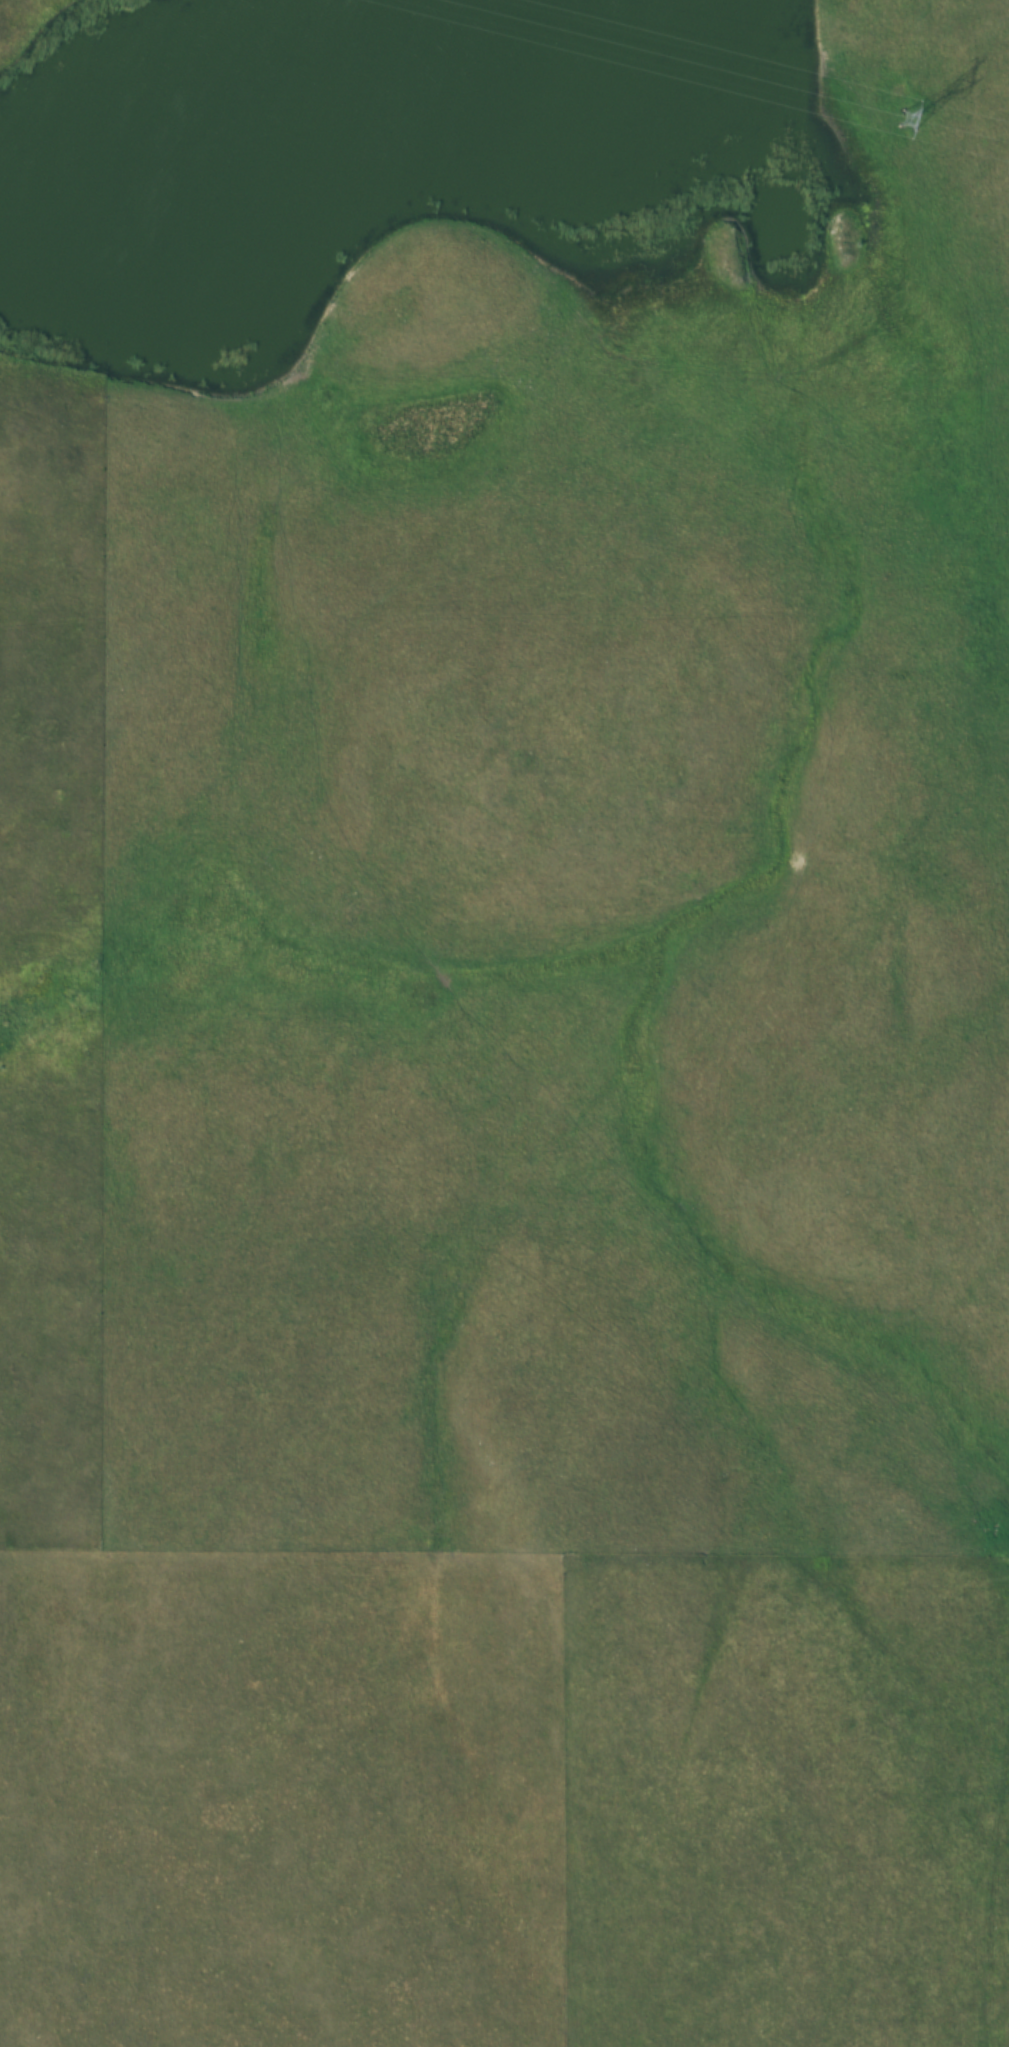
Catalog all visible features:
power tower: (925, 123)

